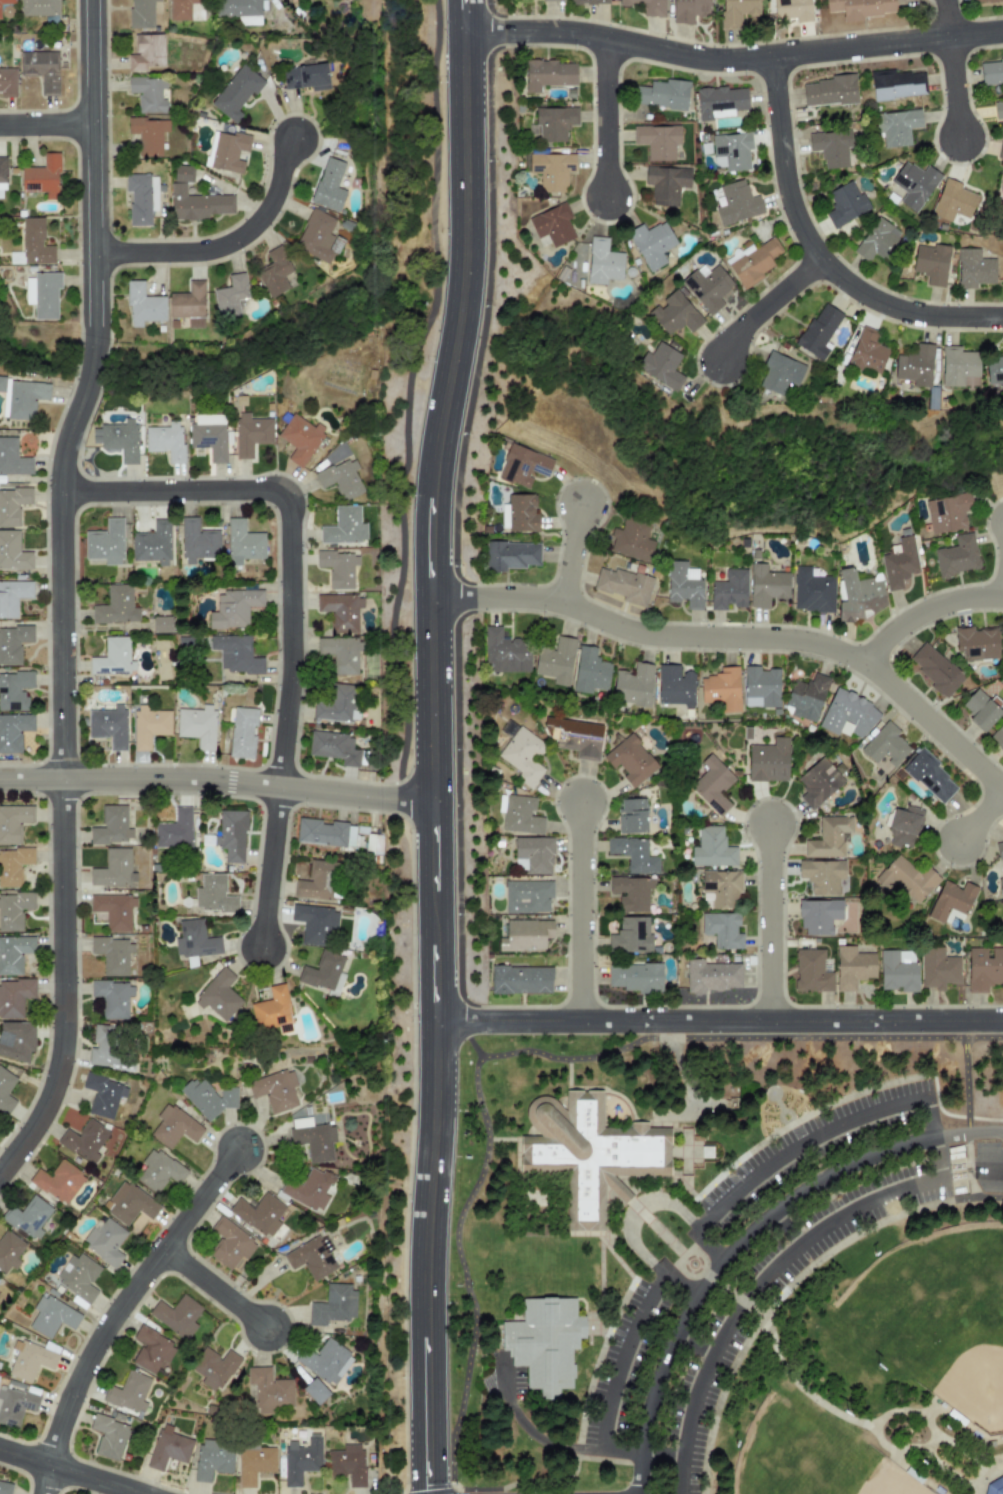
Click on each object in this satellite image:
building: (289, 0)
building: (552, 0)
building: (7, 1)
building: (981, 1)
building: (589, 2)
building: (1002, 2)
building: (38, 7)
building: (647, 7)
building: (860, 8)
building: (185, 9)
building: (239, 10)
building: (688, 10)
building: (792, 10)
building: (737, 12)
building: (140, 13)
road: (466, 27)
building: (146, 52)
road: (733, 60)
building: (41, 69)
road: (956, 69)
building: (991, 70)
building: (548, 74)
building: (305, 76)
building: (7, 82)
building: (896, 84)
building: (830, 90)
building: (236, 92)
building: (148, 93)
building: (662, 94)
building: (720, 101)
building: (998, 109)
road: (609, 120)
building: (553, 124)
road: (46, 125)
building: (896, 126)
building: (148, 133)
building: (657, 140)
building: (829, 148)
building: (1000, 150)
building: (226, 151)
building: (731, 151)
building: (551, 170)
building: (2, 173)
building: (183, 174)
building: (42, 177)
road: (93, 183)
building: (666, 184)
building: (914, 184)
building: (328, 185)
building: (141, 198)
building: (952, 201)
building: (736, 203)
building: (844, 203)
building: (199, 204)
building: (552, 225)
building: (318, 237)
building: (878, 240)
building: (35, 242)
building: (651, 243)
road: (225, 246)
road: (819, 254)
building: (16, 258)
building: (602, 262)
building: (754, 262)
building: (931, 263)
building: (973, 269)
building: (275, 273)
building: (707, 286)
building: (43, 294)
building: (230, 295)
building: (189, 304)
road: (770, 304)
building: (142, 305)
building: (674, 313)
road: (41, 329)
building: (818, 331)
road: (238, 337)
building: (1002, 348)
building: (867, 352)
building: (661, 365)
building: (957, 365)
building: (915, 366)
building: (994, 370)
building: (780, 373)
building: (21, 397)
building: (250, 434)
building: (208, 435)
building: (300, 438)
building: (118, 439)
building: (165, 440)
building: (12, 458)
building: (523, 466)
building: (340, 478)
building: (12, 505)
building: (947, 512)
building: (519, 514)
building: (344, 526)
road: (707, 526)
building: (631, 540)
building: (198, 541)
building: (243, 542)
building: (105, 543)
building: (152, 543)
building: (13, 551)
road: (574, 554)
building: (510, 555)
building: (957, 556)
building: (898, 562)
building: (337, 568)
building: (683, 584)
building: (624, 585)
building: (766, 585)
building: (729, 590)
building: (812, 591)
building: (858, 594)
building: (12, 597)
building: (115, 606)
building: (233, 608)
building: (340, 611)
road: (930, 613)
road: (295, 616)
building: (161, 624)
road: (742, 640)
building: (13, 643)
building: (976, 643)
building: (505, 652)
building: (340, 653)
building: (235, 654)
building: (1002, 654)
building: (112, 657)
building: (556, 661)
building: (934, 668)
building: (590, 672)
building: (633, 685)
building: (674, 686)
building: (760, 687)
building: (721, 689)
building: (14, 690)
building: (806, 697)
building: (336, 704)
building: (981, 709)
building: (848, 715)
building: (108, 726)
building: (148, 726)
building: (197, 726)
building: (508, 729)
building: (13, 731)
building: (242, 732)
building: (998, 736)
building: (575, 737)
building: (885, 745)
building: (333, 747)
building: (523, 756)
building: (630, 760)
building: (768, 761)
road: (435, 773)
road: (66, 775)
building: (930, 777)
building: (818, 783)
road: (218, 784)
building: (712, 785)
building: (520, 815)
building: (631, 816)
road: (982, 818)
building: (13, 822)
building: (111, 826)
building: (904, 827)
building: (174, 830)
building: (325, 833)
building: (231, 835)
building: (828, 838)
building: (712, 849)
building: (999, 850)
building: (534, 855)
building: (633, 855)
building: (13, 865)
building: (114, 869)
building: (822, 876)
building: (906, 879)
building: (316, 881)
building: (1000, 886)
building: (722, 888)
building: (631, 893)
building: (213, 894)
building: (527, 896)
building: (951, 900)
building: (13, 910)
building: (113, 910)
road: (579, 911)
building: (819, 916)
road: (769, 922)
building: (315, 924)
building: (722, 930)
building: (525, 934)
building: (630, 936)
building: (194, 939)
building: (14, 953)
building: (113, 955)
building: (853, 967)
building: (938, 968)
building: (984, 969)
building: (322, 971)
building: (811, 971)
building: (898, 971)
building: (711, 976)
building: (634, 977)
building: (520, 980)
building: (219, 995)
building: (14, 997)
building: (112, 998)
building: (272, 1010)
road: (719, 1021)
road: (462, 1035)
road: (739, 1038)
building: (16, 1040)
building: (107, 1049)
building: (275, 1090)
building: (5, 1091)
building: (103, 1095)
building: (207, 1098)
road: (952, 1114)
road: (969, 1117)
building: (173, 1127)
road: (819, 1128)
building: (312, 1139)
building: (83, 1140)
building: (593, 1152)
building: (158, 1170)
building: (58, 1181)
building: (309, 1189)
road: (989, 1198)
building: (128, 1203)
road: (684, 1208)
building: (259, 1214)
building: (27, 1216)
road: (758, 1219)
road: (660, 1233)
building: (105, 1240)
building: (229, 1244)
road: (709, 1246)
building: (9, 1250)
road: (683, 1255)
building: (311, 1257)
parking lot: (767, 1264)
park: (729, 1266)
road: (466, 1272)
road: (773, 1274)
building: (78, 1276)
road: (220, 1289)
road: (785, 1294)
road: (731, 1295)
building: (332, 1304)
road: (121, 1310)
building: (177, 1315)
park: (930, 1315)
building: (51, 1316)
building: (550, 1344)
road: (610, 1352)
building: (29, 1360)
building: (325, 1361)
building: (215, 1368)
building: (268, 1390)
building: (315, 1390)
building: (128, 1392)
building: (15, 1405)
road: (873, 1428)
building: (108, 1436)
road: (521, 1437)
building: (168, 1448)
park: (807, 1453)
road: (960, 1454)
building: (212, 1458)
building: (301, 1459)
building: (253, 1464)
building: (346, 1464)
road: (947, 1467)
road: (70, 1471)
road: (641, 1472)
road: (980, 1473)
road: (545, 1481)
traffic signals: (430, 1485)
building: (995, 1487)
building: (5, 1488)
road: (971, 1493)

